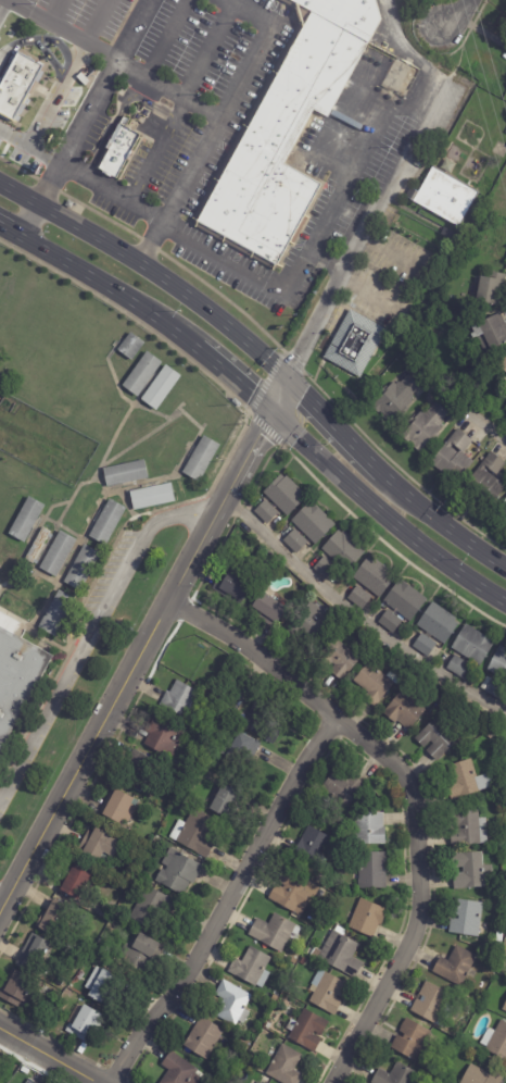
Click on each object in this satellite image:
road: (4, 14)
road: (457, 14)
road: (131, 32)
road: (208, 52)
road: (112, 61)
building: (28, 85)
road: (223, 125)
building: (289, 128)
road: (76, 137)
road: (31, 144)
building: (119, 150)
road: (154, 150)
road: (354, 161)
road: (385, 191)
road: (114, 192)
building: (445, 196)
road: (17, 200)
road: (24, 225)
road: (7, 236)
road: (258, 282)
road: (165, 287)
building: (492, 289)
road: (370, 291)
road: (105, 292)
building: (492, 333)
building: (355, 344)
building: (130, 345)
building: (503, 364)
building: (141, 372)
building: (468, 377)
traffic signals: (284, 383)
road: (229, 384)
building: (161, 386)
road: (454, 397)
building: (397, 398)
traffic signals: (266, 415)
building: (426, 427)
road: (331, 428)
building: (201, 457)
building: (454, 458)
building: (125, 472)
building: (488, 481)
building: (284, 494)
building: (152, 495)
building: (266, 511)
building: (503, 513)
road: (382, 514)
building: (26, 518)
building: (106, 521)
building: (313, 521)
road: (440, 524)
building: (294, 540)
building: (37, 544)
building: (343, 549)
building: (58, 552)
building: (81, 567)
building: (326, 568)
building: (370, 581)
parking lot: (103, 582)
building: (232, 586)
building: (304, 589)
building: (404, 598)
building: (267, 608)
building: (56, 612)
road: (358, 614)
building: (390, 620)
building: (312, 623)
building: (434, 627)
road: (92, 636)
building: (469, 649)
road: (147, 657)
building: (338, 658)
building: (498, 662)
building: (404, 670)
building: (16, 674)
building: (374, 683)
building: (496, 687)
building: (180, 698)
building: (405, 710)
building: (261, 724)
building: (493, 733)
building: (163, 735)
building: (437, 737)
building: (242, 746)
building: (138, 764)
building: (466, 779)
building: (191, 785)
building: (342, 788)
road: (413, 796)
building: (499, 798)
building: (224, 801)
building: (180, 802)
building: (118, 805)
building: (369, 827)
building: (467, 827)
building: (194, 832)
building: (166, 836)
building: (99, 844)
building: (312, 846)
building: (372, 870)
building: (470, 870)
building: (178, 871)
building: (142, 872)
building: (74, 881)
building: (292, 893)
road: (226, 900)
building: (151, 906)
building: (103, 912)
road: (2, 913)
building: (367, 917)
building: (469, 918)
building: (54, 919)
building: (324, 922)
building: (274, 931)
building: (498, 937)
building: (492, 948)
building: (33, 951)
building: (340, 954)
building: (97, 957)
building: (141, 957)
building: (303, 961)
building: (455, 966)
building: (251, 967)
building: (504, 970)
building: (62, 983)
building: (102, 984)
building: (18, 988)
building: (67, 992)
building: (328, 992)
building: (54, 994)
building: (274, 997)
building: (232, 1004)
building: (433, 1005)
building: (505, 1008)
building: (84, 1022)
building: (268, 1025)
building: (306, 1030)
building: (203, 1037)
building: (67, 1038)
building: (410, 1038)
building: (495, 1040)
building: (244, 1043)
road: (49, 1056)
building: (0, 1060)
building: (286, 1066)
building: (25, 1070)
building: (177, 1070)
building: (396, 1075)
building: (448, 1075)
building: (481, 1076)
building: (35, 1082)
building: (258, 1082)
building: (262, 1082)
building: (266, 1082)

